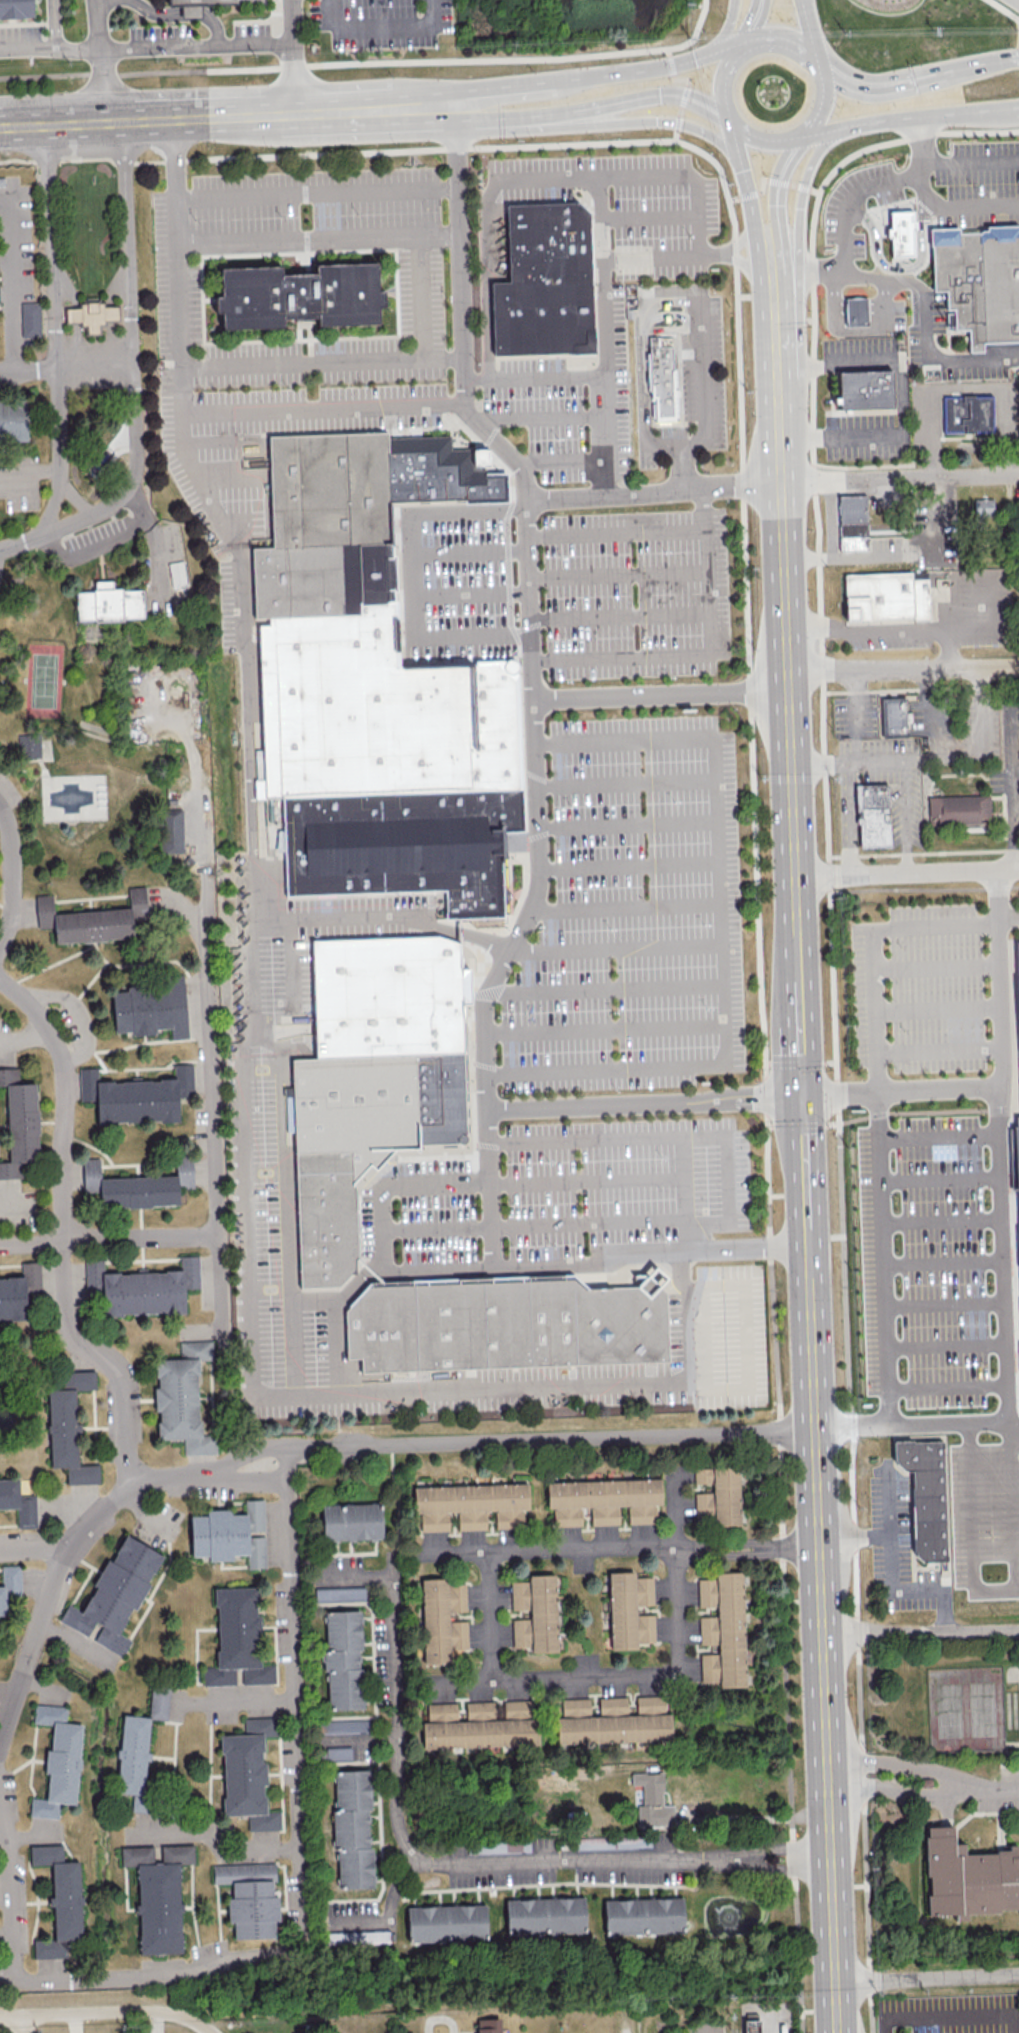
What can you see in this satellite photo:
building: (215, 1)
building: (16, 9)
road: (1005, 9)
road: (168, 14)
road: (755, 23)
road: (56, 24)
road: (381, 28)
road: (728, 29)
parking lot: (309, 31)
road: (812, 32)
road: (786, 42)
road: (198, 47)
road: (51, 48)
road: (293, 57)
traffic signals: (694, 59)
road: (104, 60)
road: (370, 63)
road: (985, 64)
road: (670, 66)
road: (728, 80)
road: (688, 88)
road: (885, 88)
road: (523, 89)
traffic signals: (659, 96)
road: (823, 103)
road: (595, 108)
road: (1003, 112)
road: (227, 117)
road: (894, 119)
road: (639, 121)
traffic signals: (655, 121)
road: (737, 136)
road: (764, 138)
road: (176, 160)
road: (972, 160)
road: (923, 164)
traffic signals: (745, 169)
road: (638, 176)
road: (770, 180)
parking lot: (926, 191)
road: (316, 196)
road: (850, 201)
traffic signals: (779, 204)
road: (975, 205)
traffic signals: (803, 208)
road: (648, 216)
road: (601, 219)
building: (903, 234)
road: (317, 236)
road: (729, 254)
road: (802, 256)
road: (650, 259)
road: (784, 265)
road: (898, 269)
road: (7, 275)
road: (487, 276)
road: (869, 276)
building: (981, 281)
building: (548, 283)
road: (769, 292)
building: (301, 297)
road: (423, 297)
parking lot: (599, 300)
road: (858, 310)
road: (876, 310)
road: (840, 311)
building: (858, 311)
road: (674, 313)
building: (94, 314)
building: (30, 319)
road: (54, 329)
road: (132, 329)
road: (673, 329)
road: (855, 330)
road: (942, 362)
road: (643, 366)
road: (67, 367)
road: (235, 367)
road: (534, 377)
road: (606, 377)
building: (663, 382)
road: (704, 382)
building: (867, 388)
road: (967, 390)
road: (322, 407)
road: (902, 407)
building: (970, 414)
road: (540, 416)
road: (790, 416)
parking lot: (300, 417)
building: (13, 422)
road: (216, 440)
road: (786, 457)
road: (564, 461)
road: (683, 470)
road: (224, 477)
road: (902, 479)
road: (656, 490)
road: (74, 496)
road: (213, 507)
building: (982, 508)
road: (833, 519)
building: (853, 523)
road: (235, 524)
road: (617, 531)
road: (45, 533)
road: (946, 538)
road: (110, 542)
road: (470, 549)
road: (842, 557)
building: (176, 572)
road: (618, 573)
road: (787, 576)
road: (412, 577)
parking lot: (457, 579)
road: (471, 591)
parking lot: (635, 593)
road: (992, 595)
building: (887, 597)
building: (108, 603)
road: (619, 615)
building: (369, 631)
road: (886, 631)
road: (805, 633)
road: (951, 648)
road: (705, 655)
road: (903, 668)
park: (44, 681)
road: (983, 681)
road: (928, 682)
road: (532, 683)
road: (858, 684)
road: (660, 696)
building: (893, 717)
road: (860, 730)
road: (749, 734)
building: (28, 745)
road: (962, 759)
road: (886, 761)
road: (809, 765)
road: (791, 774)
road: (248, 782)
road: (625, 782)
road: (1016, 787)
building: (960, 811)
building: (873, 816)
road: (908, 817)
road: (851, 819)
road: (627, 824)
building: (170, 830)
building: (404, 847)
road: (628, 865)
road: (12, 872)
road: (907, 874)
road: (625, 905)
parking lot: (633, 914)
road: (333, 917)
building: (92, 919)
road: (796, 921)
road: (721, 929)
road: (463, 932)
parking lot: (321, 934)
road: (615, 947)
road: (289, 961)
road: (942, 968)
building: (1017, 968)
road: (798, 986)
road: (606, 987)
building: (390, 997)
road: (206, 1003)
road: (834, 1003)
building: (150, 1007)
road: (943, 1010)
road: (77, 1019)
road: (605, 1030)
road: (24, 1036)
road: (944, 1050)
road: (800, 1053)
road: (905, 1091)
building: (136, 1096)
traffic signals: (801, 1098)
road: (768, 1099)
road: (880, 1103)
road: (612, 1106)
building: (19, 1123)
building: (1018, 1136)
road: (940, 1138)
building: (363, 1141)
road: (999, 1153)
road: (804, 1172)
road: (939, 1180)
road: (487, 1182)
building: (137, 1186)
parking lot: (561, 1192)
road: (683, 1194)
parking lot: (940, 1213)
road: (717, 1221)
road: (938, 1221)
road: (63, 1236)
road: (109, 1241)
road: (698, 1253)
road: (939, 1263)
road: (486, 1268)
road: (287, 1273)
road: (680, 1274)
building: (142, 1287)
building: (19, 1291)
road: (941, 1304)
road: (334, 1324)
building: (508, 1324)
road: (748, 1339)
road: (942, 1346)
road: (944, 1387)
road: (283, 1394)
building: (182, 1398)
road: (911, 1422)
building: (68, 1428)
road: (1015, 1437)
road: (577, 1439)
road: (310, 1448)
road: (216, 1470)
building: (718, 1494)
building: (927, 1496)
building: (603, 1500)
building: (18, 1502)
building: (471, 1505)
road: (1014, 1514)
building: (351, 1521)
road: (970, 1529)
building: (230, 1534)
road: (855, 1537)
road: (619, 1548)
parking lot: (896, 1548)
road: (36, 1549)
road: (892, 1555)
building: (9, 1584)
road: (51, 1588)
building: (115, 1593)
building: (340, 1593)
building: (629, 1610)
road: (941, 1610)
building: (534, 1613)
building: (442, 1619)
building: (722, 1629)
road: (920, 1632)
building: (237, 1639)
road: (822, 1640)
building: (343, 1658)
road: (588, 1681)
building: (158, 1702)
road: (234, 1702)
park: (965, 1710)
building: (613, 1720)
building: (480, 1725)
building: (343, 1726)
building: (338, 1752)
building: (133, 1757)
building: (57, 1760)
road: (904, 1765)
building: (247, 1774)
parking lot: (1011, 1776)
building: (928, 1782)
road: (998, 1788)
road: (903, 1794)
parking lot: (998, 1797)
building: (652, 1800)
road: (940, 1811)
road: (758, 1816)
building: (352, 1829)
road: (218, 1835)
building: (610, 1843)
road: (301, 1859)
road: (443, 1868)
building: (968, 1878)
road: (949, 1891)
road: (11, 1894)
building: (158, 1895)
building: (249, 1898)
building: (59, 1900)
road: (393, 1913)
building: (544, 1915)
building: (643, 1915)
building: (446, 1923)
river: (945, 1952)
road: (927, 1979)
road: (100, 2013)
road: (954, 2013)
power substation: (769, 2016)
road: (627, 2019)
road: (21, 2024)
building: (750, 2024)
building: (488, 2025)
road: (203, 2029)

